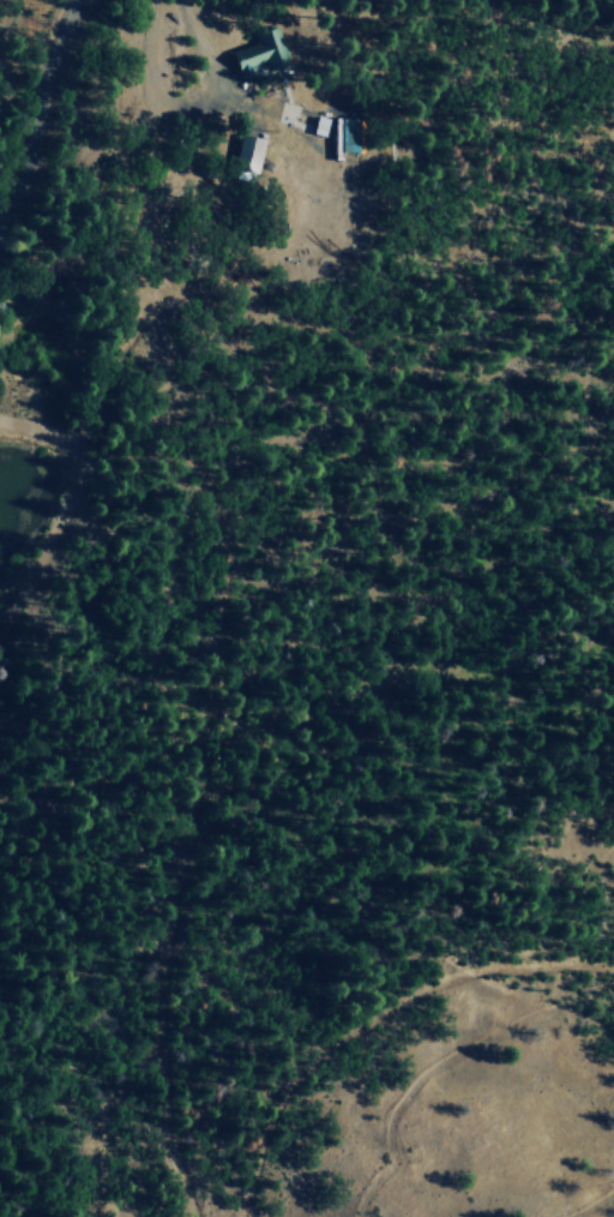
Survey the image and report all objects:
building: (260, 50)
road: (49, 86)
building: (344, 134)
building: (248, 150)

